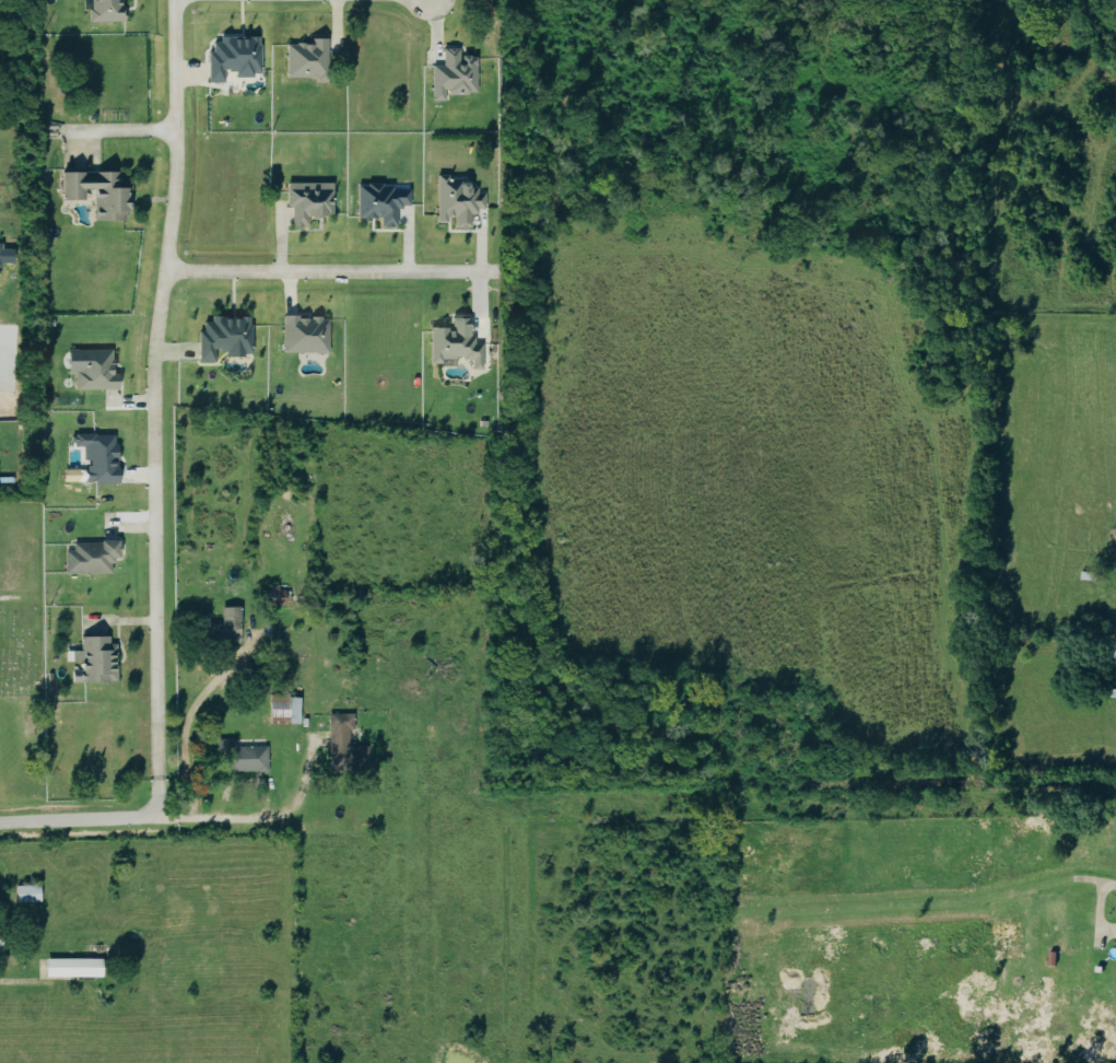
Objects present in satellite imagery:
building: (105, 10)
building: (232, 57)
building: (305, 59)
building: (453, 74)
road: (109, 129)
building: (99, 192)
building: (308, 201)
building: (457, 201)
building: (379, 202)
road: (332, 272)
building: (304, 335)
building: (224, 338)
building: (454, 343)
building: (91, 369)
road: (153, 407)
building: (97, 457)
building: (90, 558)
building: (283, 597)
park: (20, 599)
building: (223, 629)
building: (1114, 651)
building: (93, 661)
building: (283, 709)
road: (189, 715)
building: (345, 743)
building: (246, 758)
road: (243, 782)
road: (289, 810)
road: (75, 820)
road: (1105, 888)
building: (26, 892)
building: (0, 936)
building: (1005, 938)
building: (73, 965)
road: (15, 980)

